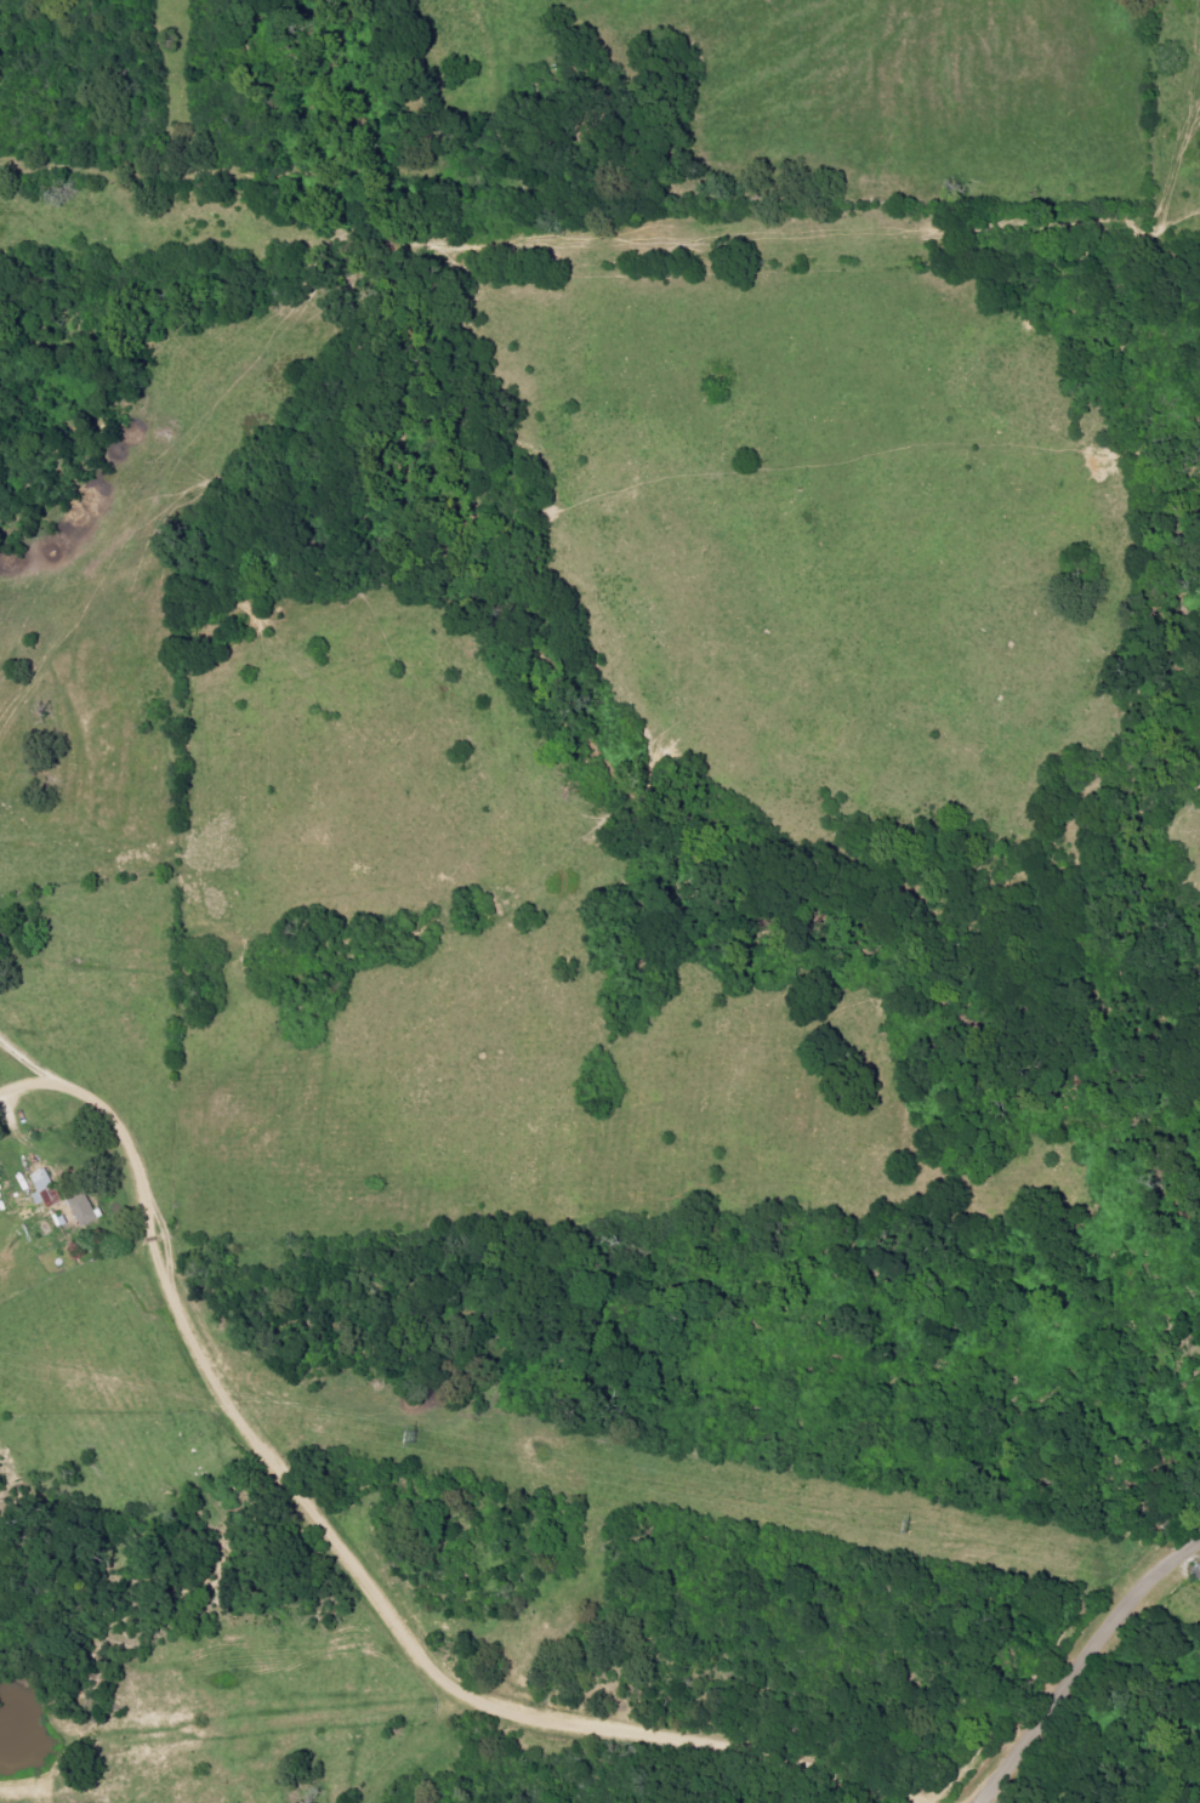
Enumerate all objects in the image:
building: (7, 927)
building: (47, 1188)
building: (86, 1210)
power tower: (396, 1439)
power tower: (893, 1522)
road: (362, 1566)
road: (1090, 1687)

